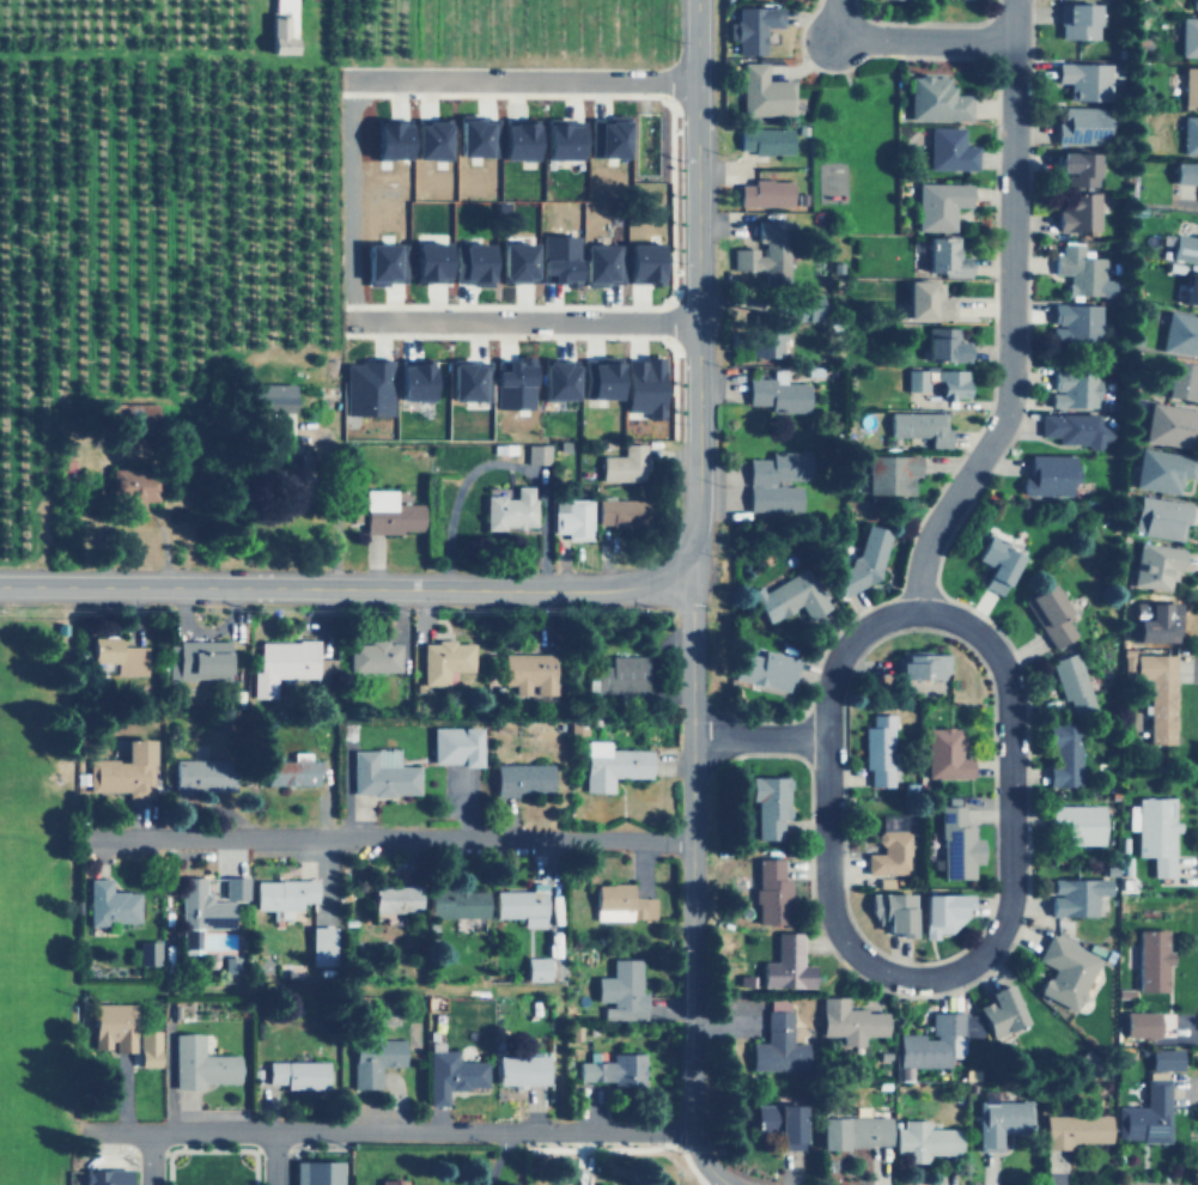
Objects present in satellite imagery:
building: (1194, 4)
building: (1077, 20)
road: (928, 22)
building: (279, 28)
building: (750, 28)
building: (1188, 36)
road: (906, 39)
road: (975, 39)
road: (871, 54)
road: (519, 78)
building: (1083, 79)
building: (1190, 85)
building: (761, 91)
building: (935, 99)
building: (1081, 124)
building: (475, 135)
building: (1190, 135)
building: (609, 136)
building: (388, 140)
building: (427, 140)
building: (515, 140)
building: (561, 140)
building: (764, 140)
park: (853, 147)
building: (949, 148)
building: (1076, 168)
building: (1185, 172)
building: (764, 193)
road: (342, 197)
building: (938, 205)
building: (1078, 213)
building: (1181, 245)
building: (766, 253)
building: (943, 256)
building: (557, 259)
building: (382, 262)
building: (426, 262)
building: (515, 262)
building: (641, 262)
building: (470, 263)
building: (1083, 272)
road: (698, 284)
building: (1191, 290)
building: (926, 302)
building: (807, 308)
road: (1010, 316)
road: (519, 318)
building: (1075, 322)
building: (1180, 333)
building: (768, 336)
building: (942, 344)
building: (597, 377)
building: (555, 379)
building: (914, 379)
building: (411, 381)
building: (467, 381)
building: (1181, 381)
building: (950, 383)
building: (511, 384)
building: (643, 385)
building: (366, 388)
building: (1074, 389)
building: (777, 393)
building: (269, 397)
building: (1169, 424)
building: (919, 426)
building: (1074, 429)
building: (536, 454)
road: (957, 462)
building: (625, 463)
building: (1161, 470)
building: (889, 474)
building: (1047, 475)
building: (777, 480)
building: (133, 490)
building: (510, 510)
building: (389, 512)
building: (621, 512)
building: (572, 517)
building: (1159, 518)
building: (862, 561)
building: (995, 564)
building: (1155, 566)
road: (347, 587)
road: (1196, 591)
building: (789, 596)
building: (1048, 614)
building: (1154, 621)
road: (920, 628)
building: (118, 655)
building: (375, 656)
building: (197, 658)
building: (444, 661)
building: (1127, 662)
building: (284, 664)
building: (922, 666)
building: (764, 669)
building: (529, 671)
building: (624, 674)
building: (1071, 682)
building: (1159, 694)
road: (1029, 703)
park: (4, 707)
building: (456, 736)
road: (808, 737)
road: (759, 739)
building: (878, 749)
building: (610, 754)
building: (944, 754)
building: (1063, 755)
building: (378, 762)
building: (518, 770)
building: (124, 771)
building: (292, 771)
building: (203, 774)
building: (770, 804)
building: (1078, 822)
building: (1155, 832)
road: (395, 837)
building: (956, 845)
road: (1011, 850)
road: (692, 881)
building: (233, 886)
building: (281, 892)
building: (771, 892)
building: (391, 897)
building: (1075, 897)
building: (455, 900)
building: (109, 903)
building: (621, 903)
building: (522, 904)
building: (199, 912)
building: (892, 913)
building: (941, 913)
building: (322, 944)
building: (148, 952)
park: (16, 956)
building: (1150, 959)
building: (786, 964)
building: (536, 967)
building: (1065, 971)
road: (383, 987)
building: (621, 990)
building: (998, 1009)
building: (850, 1021)
building: (1139, 1022)
building: (112, 1026)
building: (778, 1041)
building: (928, 1044)
building: (147, 1047)
building: (1163, 1058)
building: (373, 1059)
building: (200, 1063)
building: (613, 1068)
building: (518, 1069)
building: (298, 1074)
building: (450, 1074)
building: (1145, 1114)
building: (1002, 1120)
building: (780, 1122)
building: (1076, 1129)
building: (855, 1131)
park: (18, 1132)
road: (391, 1132)
building: (924, 1140)
road: (151, 1159)
road: (274, 1159)
road: (498, 1159)
building: (315, 1172)
building: (105, 1175)
building: (388, 1181)

